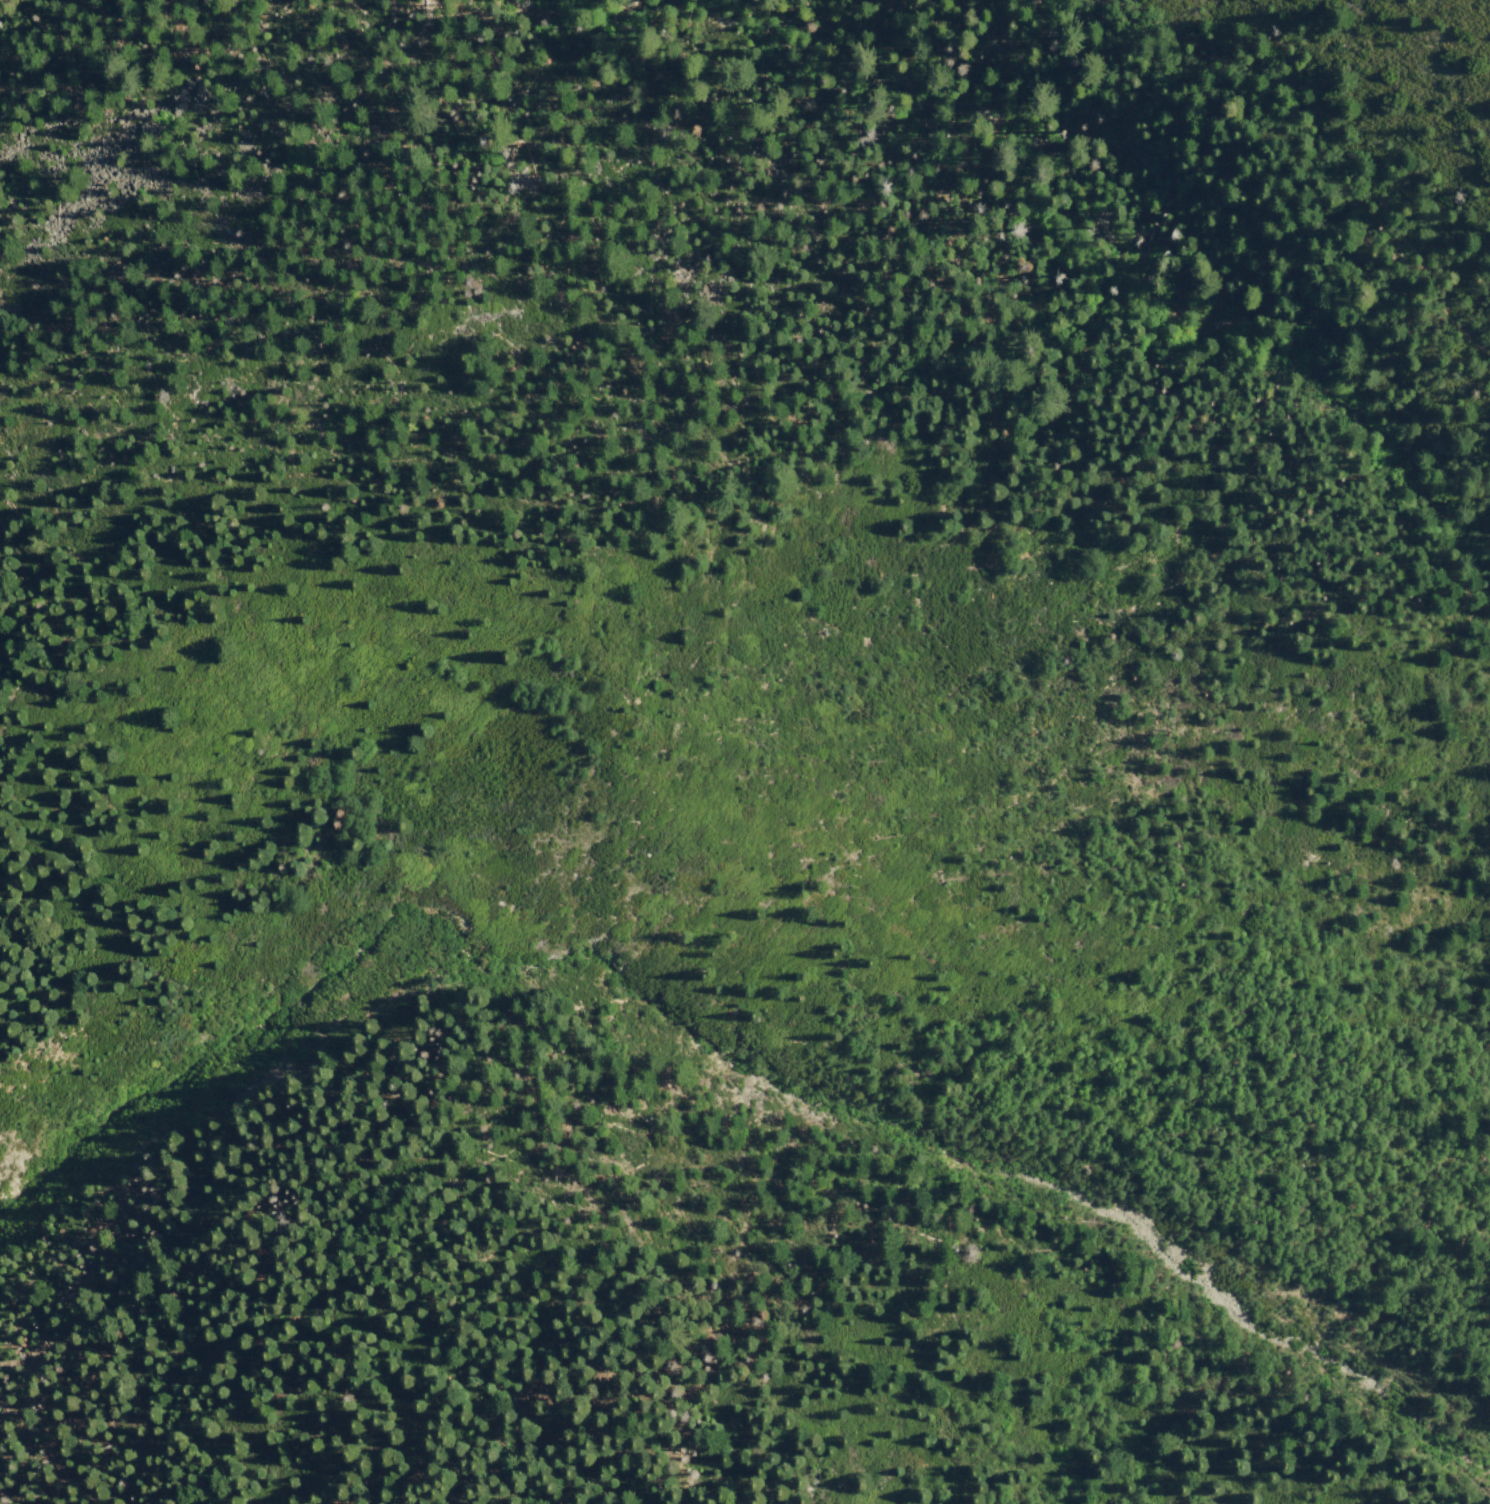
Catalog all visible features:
road: (1228, 122)

